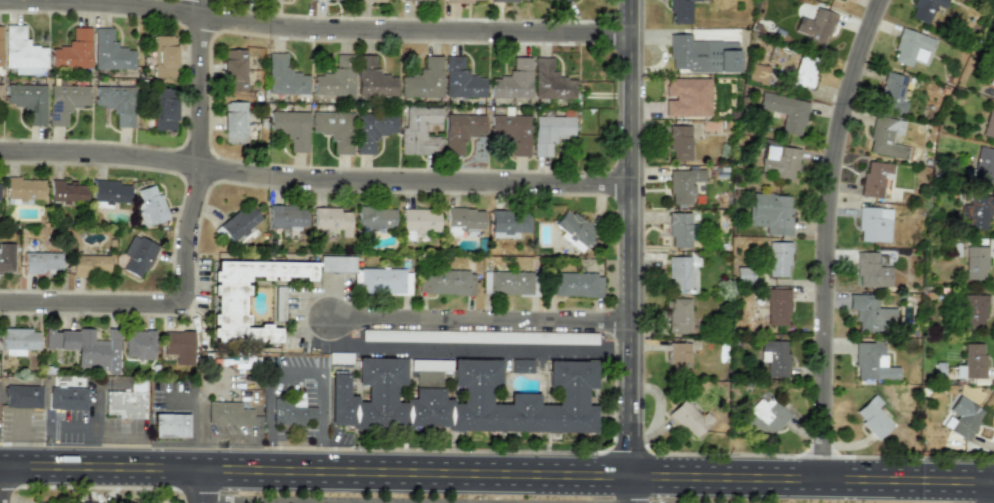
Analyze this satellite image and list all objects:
building: (422, 0)
building: (508, 0)
building: (696, 0)
building: (370, 1)
building: (465, 1)
building: (560, 1)
building: (925, 9)
building: (679, 11)
building: (814, 25)
road: (311, 29)
building: (0, 38)
building: (911, 47)
building: (73, 50)
building: (109, 51)
building: (22, 52)
building: (700, 55)
building: (163, 56)
building: (233, 69)
building: (758, 72)
building: (805, 72)
building: (283, 76)
building: (336, 77)
building: (372, 78)
building: (423, 79)
building: (461, 80)
building: (513, 80)
building: (550, 81)
building: (891, 92)
building: (0, 93)
building: (993, 93)
building: (993, 95)
building: (687, 97)
building: (27, 100)
building: (64, 102)
building: (116, 103)
building: (164, 109)
building: (785, 111)
building: (234, 123)
building: (989, 123)
building: (290, 128)
building: (334, 129)
building: (372, 130)
building: (418, 130)
building: (460, 131)
building: (511, 132)
building: (549, 132)
building: (886, 138)
building: (679, 143)
road: (197, 151)
building: (779, 163)
building: (983, 164)
building: (874, 178)
road: (310, 180)
building: (683, 184)
building: (22, 190)
building: (66, 191)
building: (110, 192)
building: (150, 204)
building: (976, 211)
building: (770, 212)
building: (285, 216)
building: (374, 218)
building: (331, 220)
building: (419, 220)
building: (463, 221)
building: (239, 222)
building: (508, 223)
building: (873, 224)
building: (573, 229)
building: (680, 229)
road: (820, 234)
road: (622, 237)
building: (137, 255)
building: (6, 258)
building: (778, 259)
building: (41, 262)
building: (975, 263)
building: (89, 264)
building: (336, 264)
building: (870, 270)
building: (682, 274)
building: (384, 280)
building: (445, 282)
building: (506, 283)
building: (574, 284)
road: (91, 301)
building: (278, 303)
building: (776, 307)
building: (229, 309)
building: (973, 309)
building: (871, 314)
building: (678, 316)
road: (476, 321)
building: (510, 337)
building: (59, 339)
building: (18, 340)
building: (138, 344)
building: (179, 346)
road: (468, 347)
building: (97, 350)
building: (678, 357)
building: (774, 357)
building: (243, 361)
building: (872, 362)
building: (971, 362)
building: (521, 365)
road: (296, 374)
building: (23, 396)
building: (67, 398)
building: (466, 400)
building: (126, 401)
building: (292, 412)
building: (228, 413)
building: (765, 416)
building: (873, 417)
building: (962, 417)
building: (687, 418)
building: (170, 425)
road: (91, 431)
road: (22, 441)
road: (497, 472)
road: (2, 484)
road: (199, 486)
road: (620, 489)
road: (981, 492)
building: (38, 502)
building: (86, 502)
road: (318, 502)

